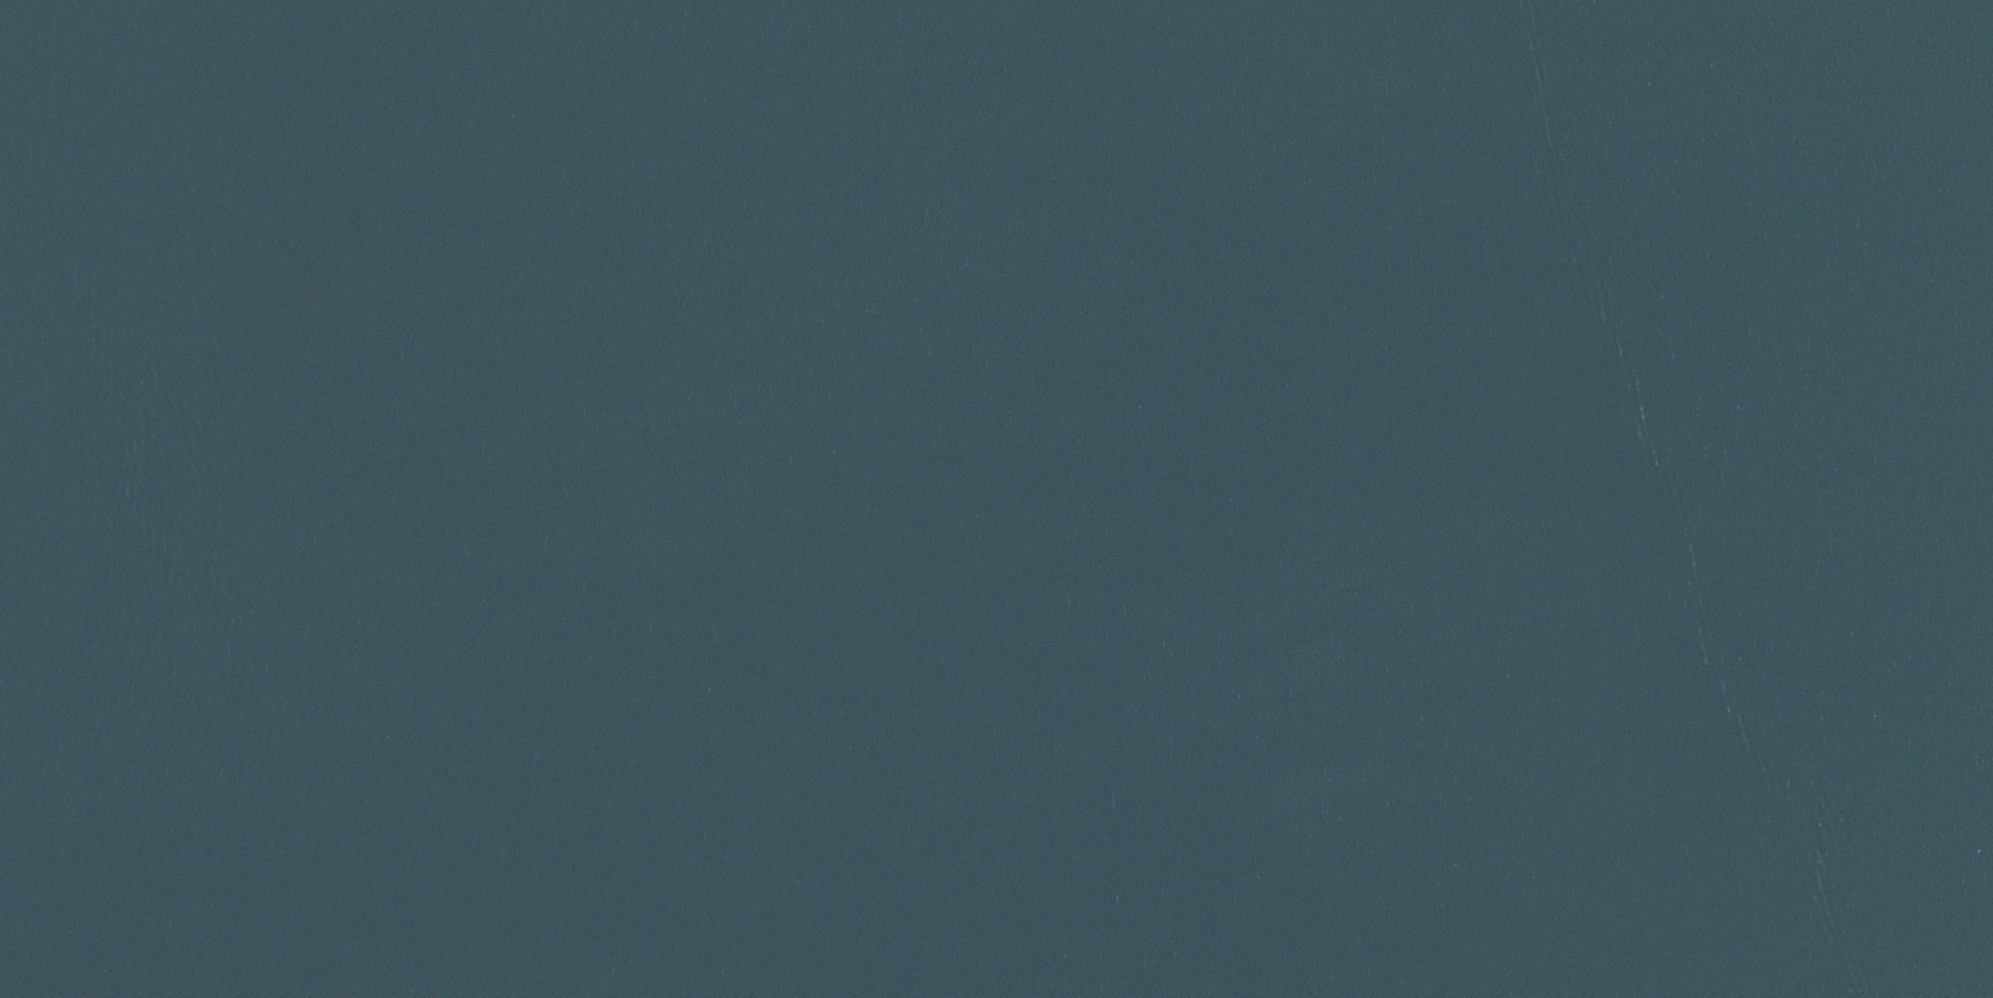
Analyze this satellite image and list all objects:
river: (1541, 294)

